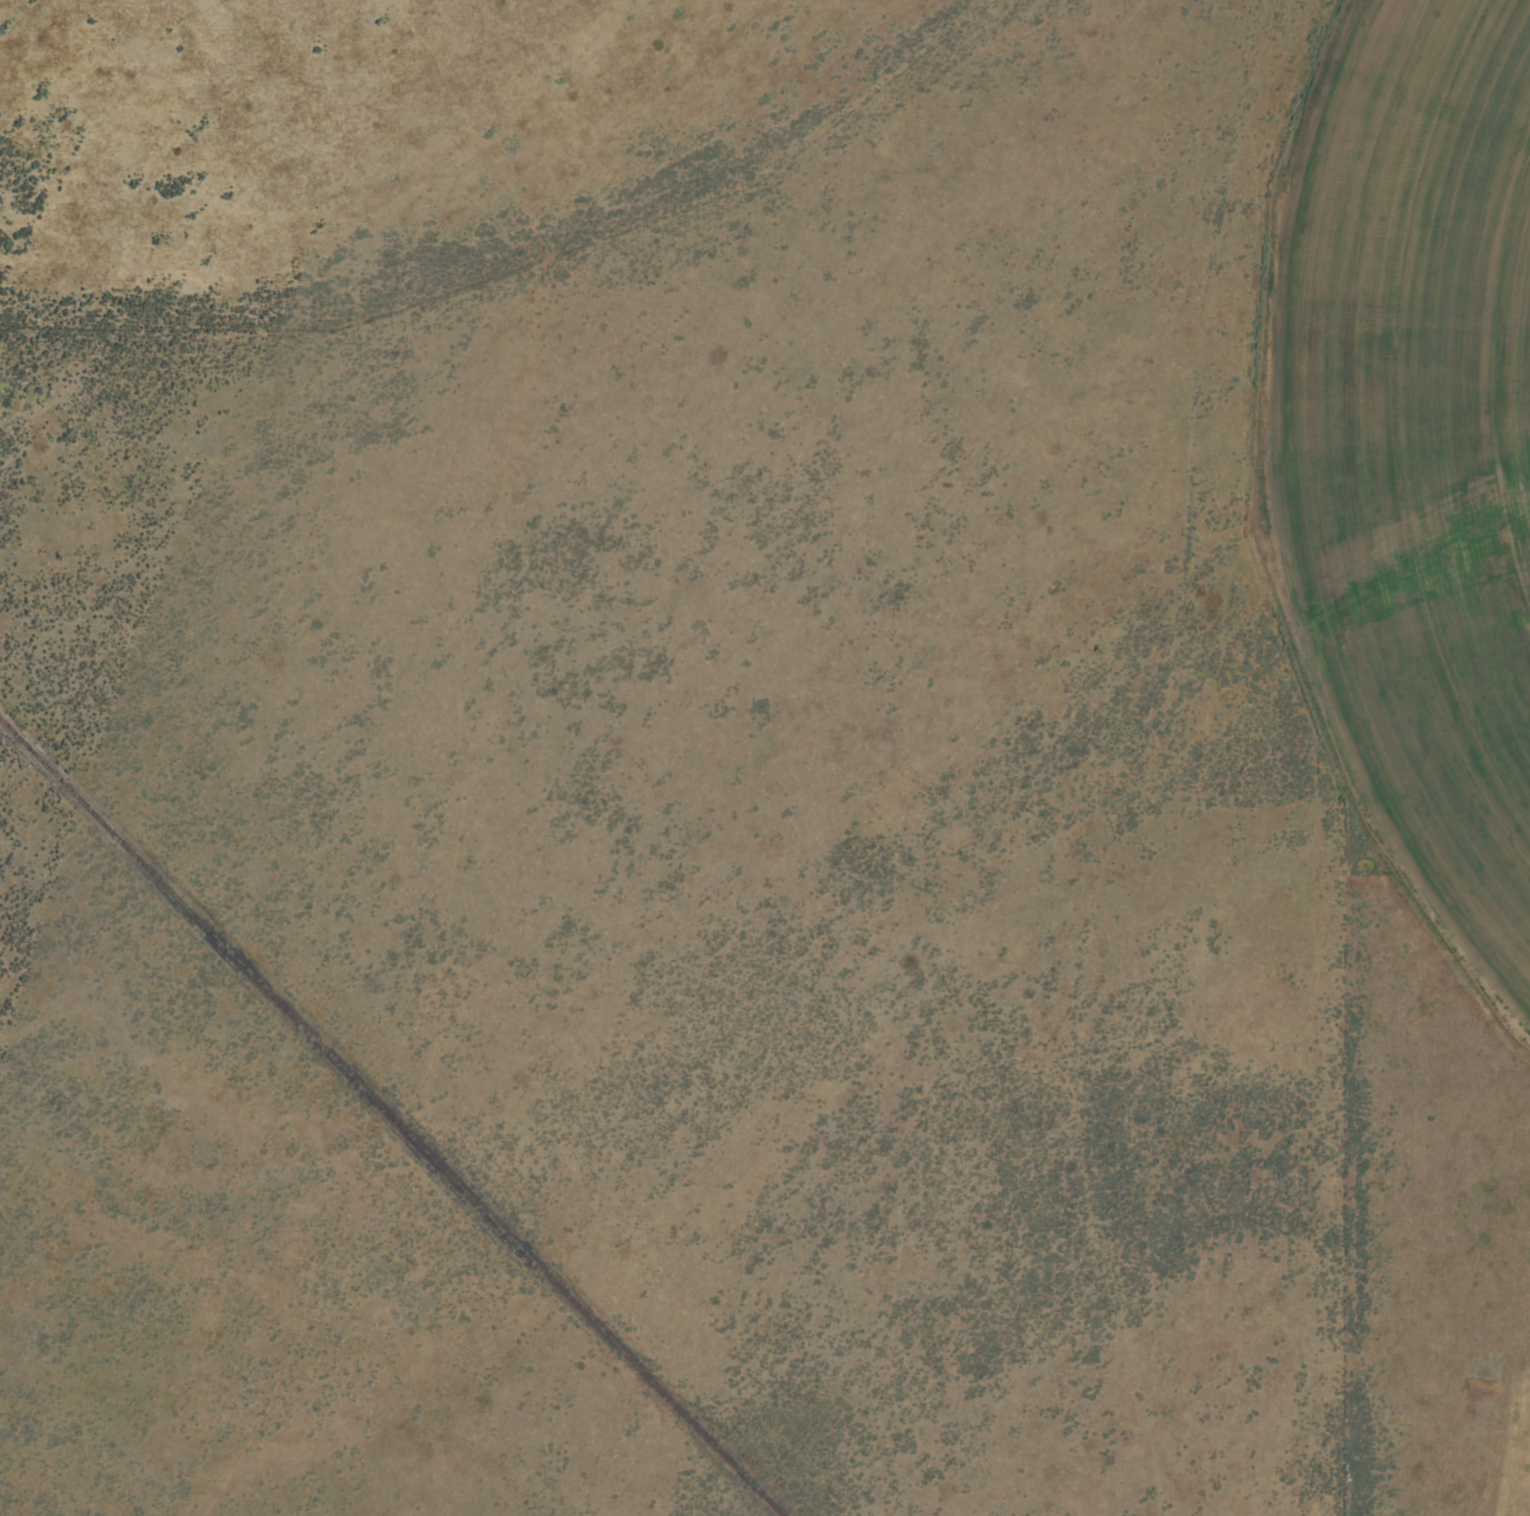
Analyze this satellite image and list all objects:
road: (1163, 761)
crop: (687, 792)
railway: (391, 1118)

